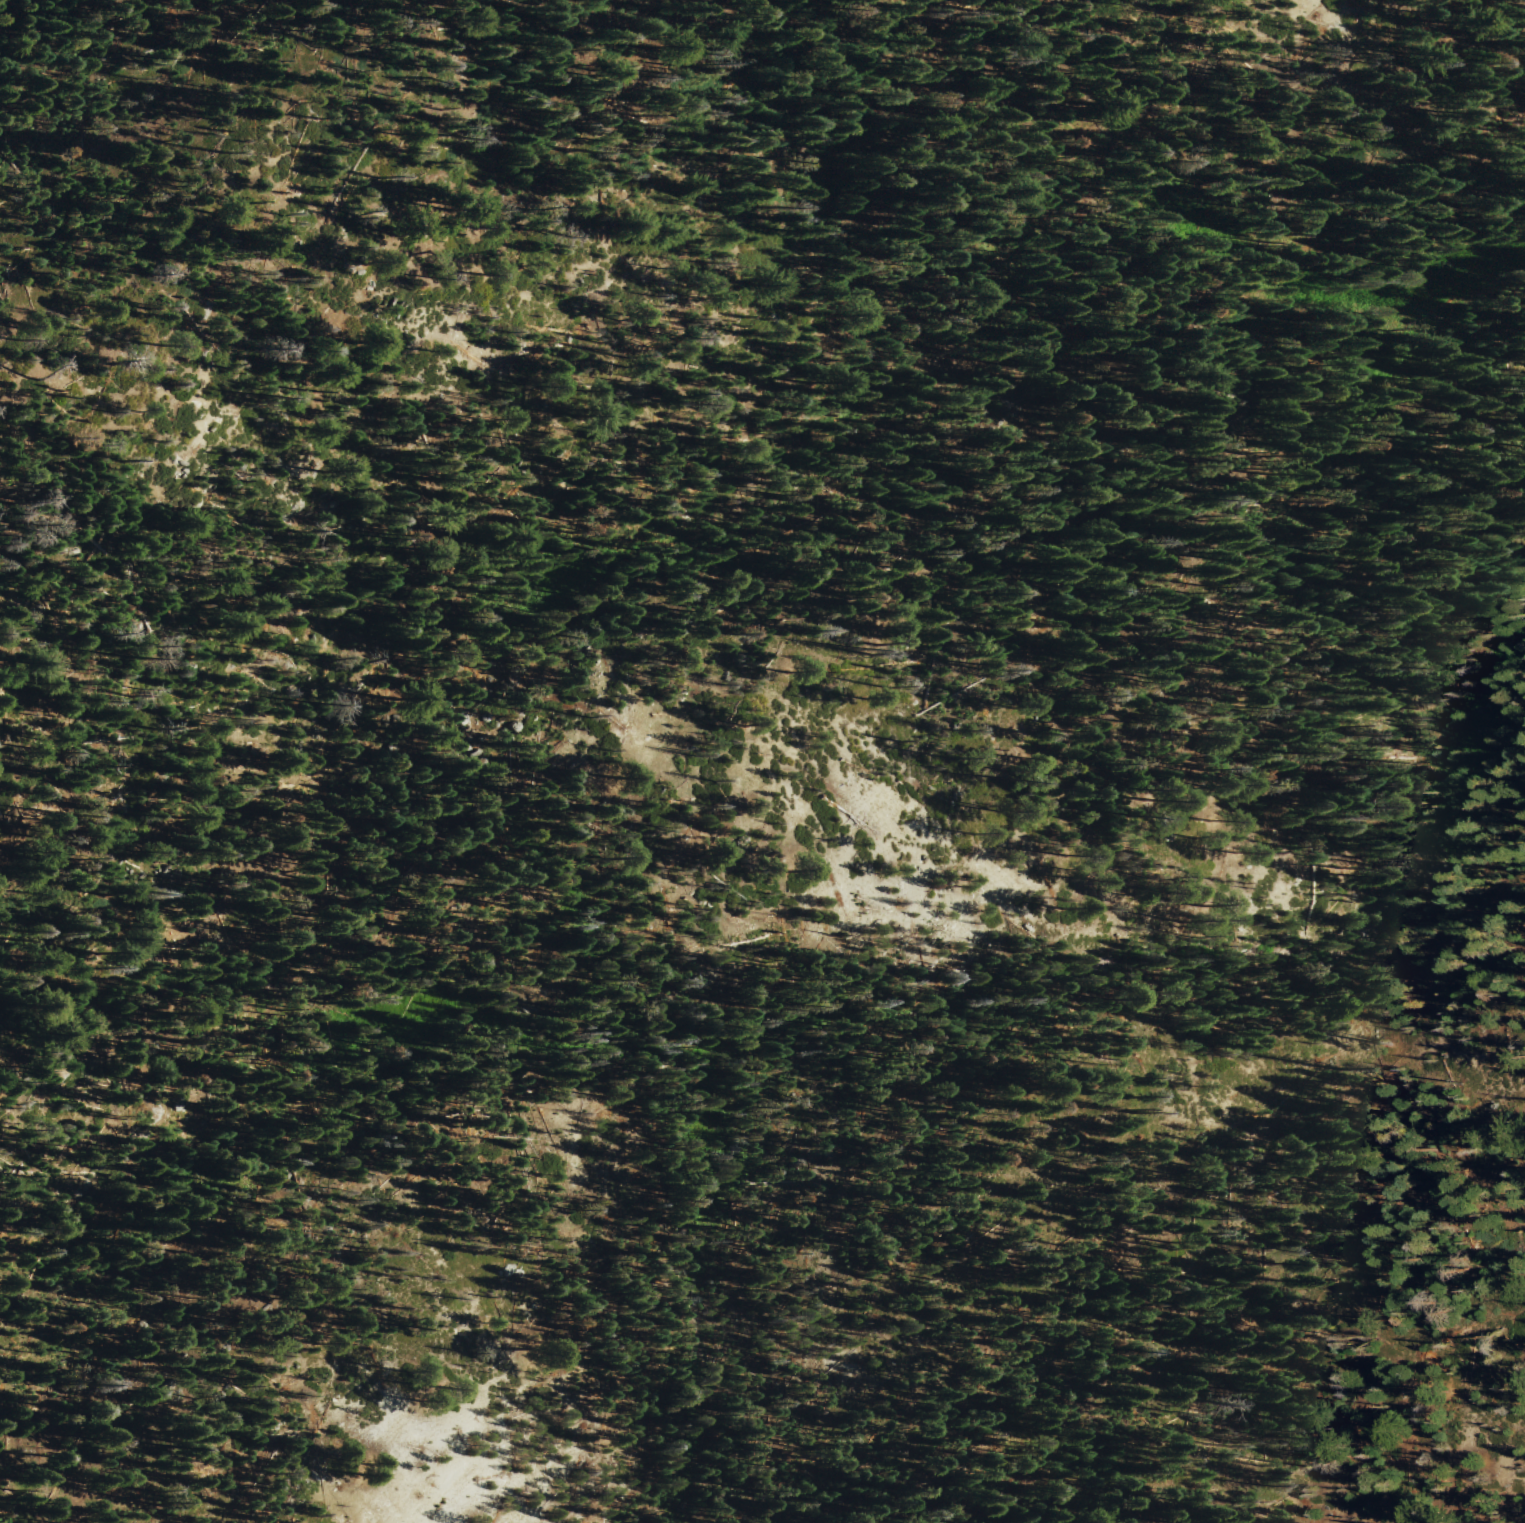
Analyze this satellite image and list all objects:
road: (1238, 289)

